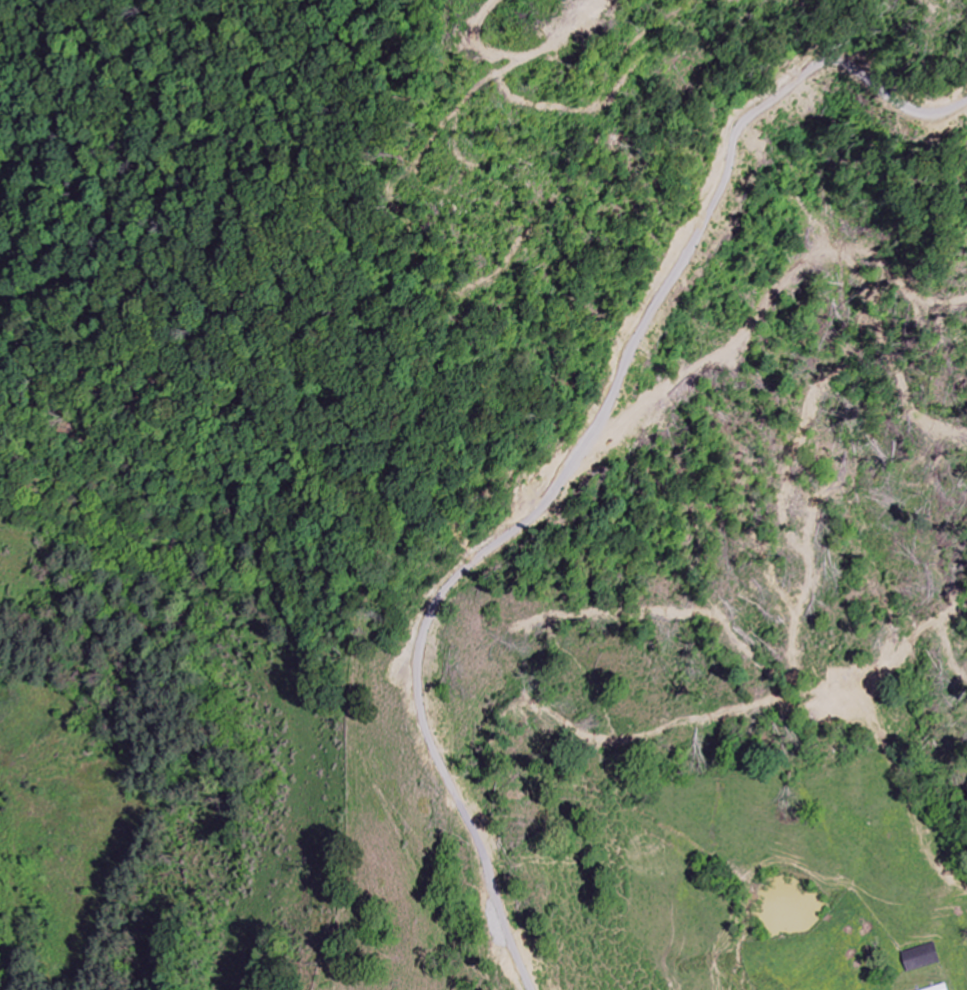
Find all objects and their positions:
building: (921, 958)
building: (942, 988)

